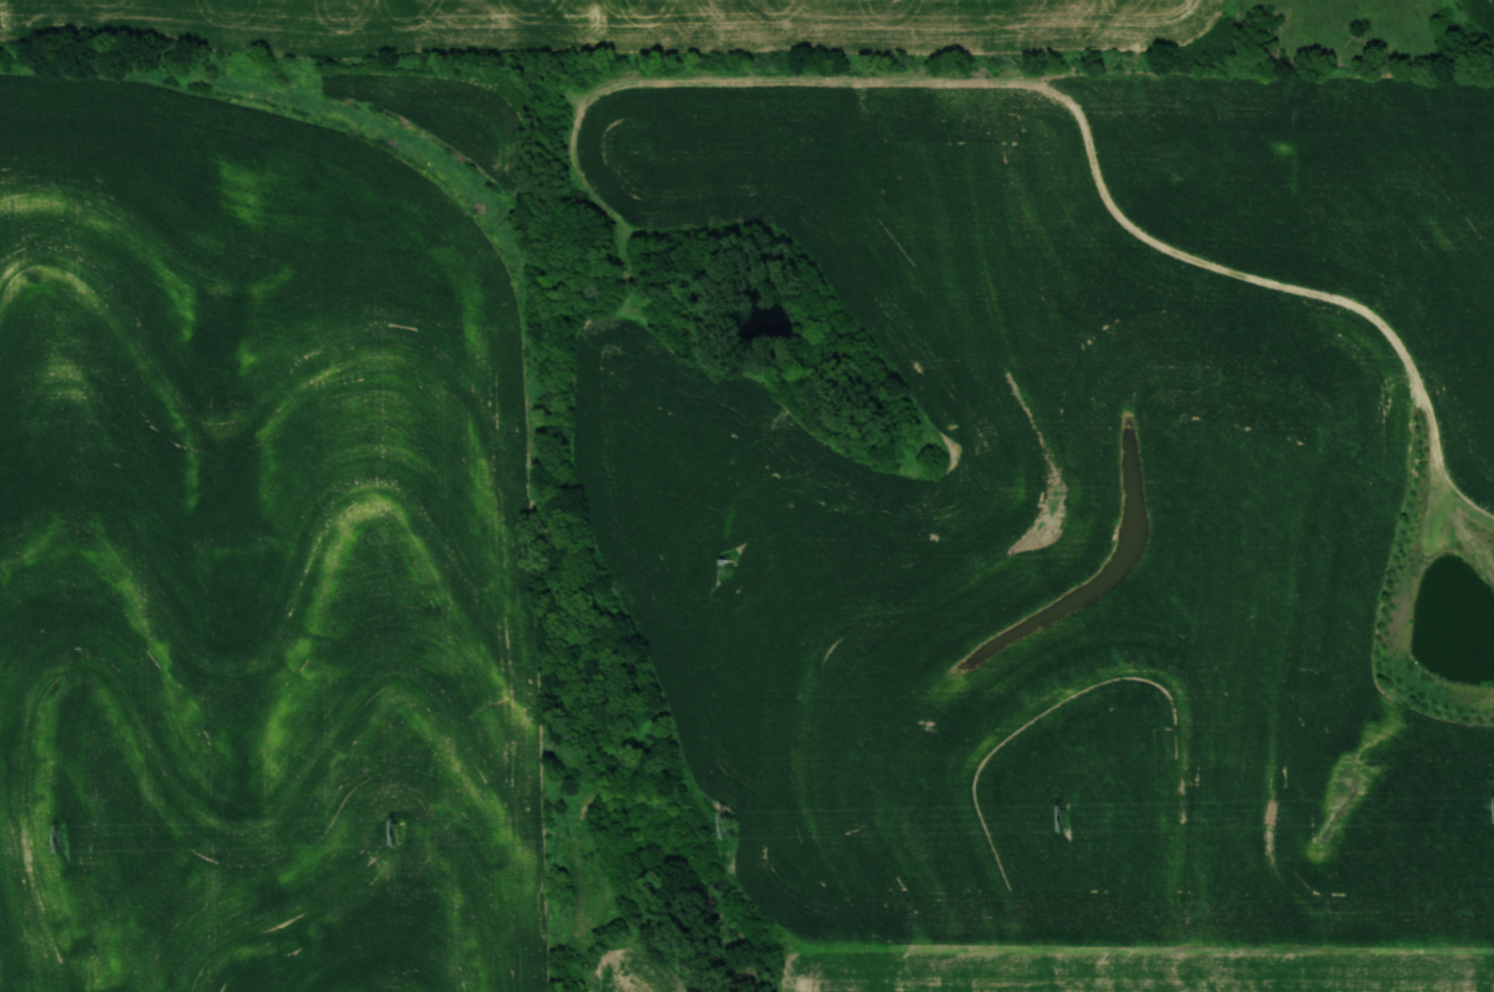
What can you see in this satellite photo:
power tower: (1066, 820)
power tower: (732, 826)
power tower: (399, 833)
power tower: (63, 839)

